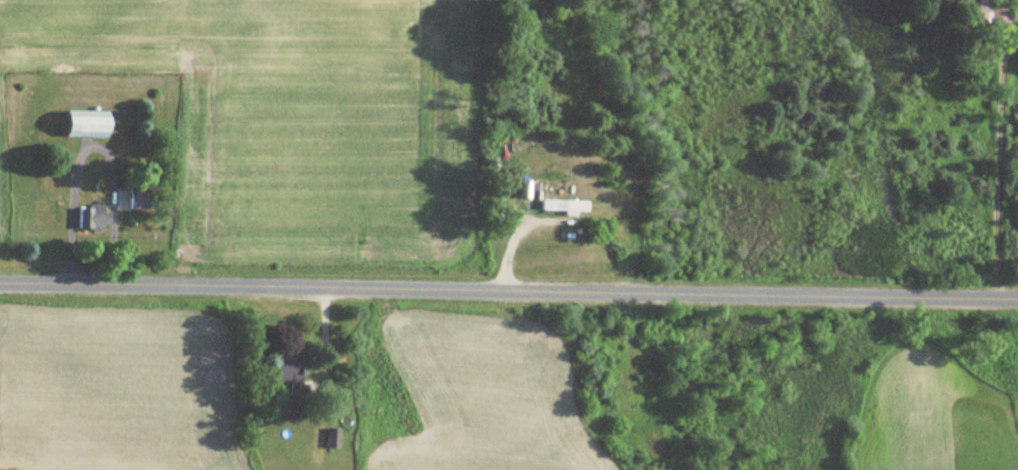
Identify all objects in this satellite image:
building: (995, 13)
building: (90, 125)
road: (94, 145)
road: (997, 158)
building: (139, 201)
building: (565, 207)
building: (96, 220)
road: (91, 248)
road: (508, 293)
building: (334, 438)

